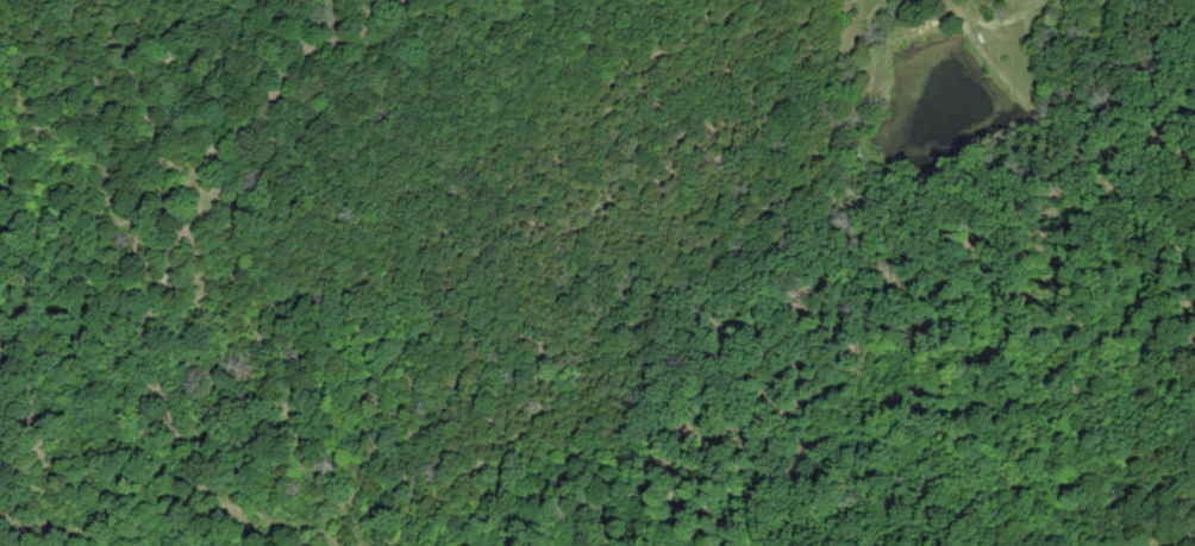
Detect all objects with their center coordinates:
road: (133, 280)

